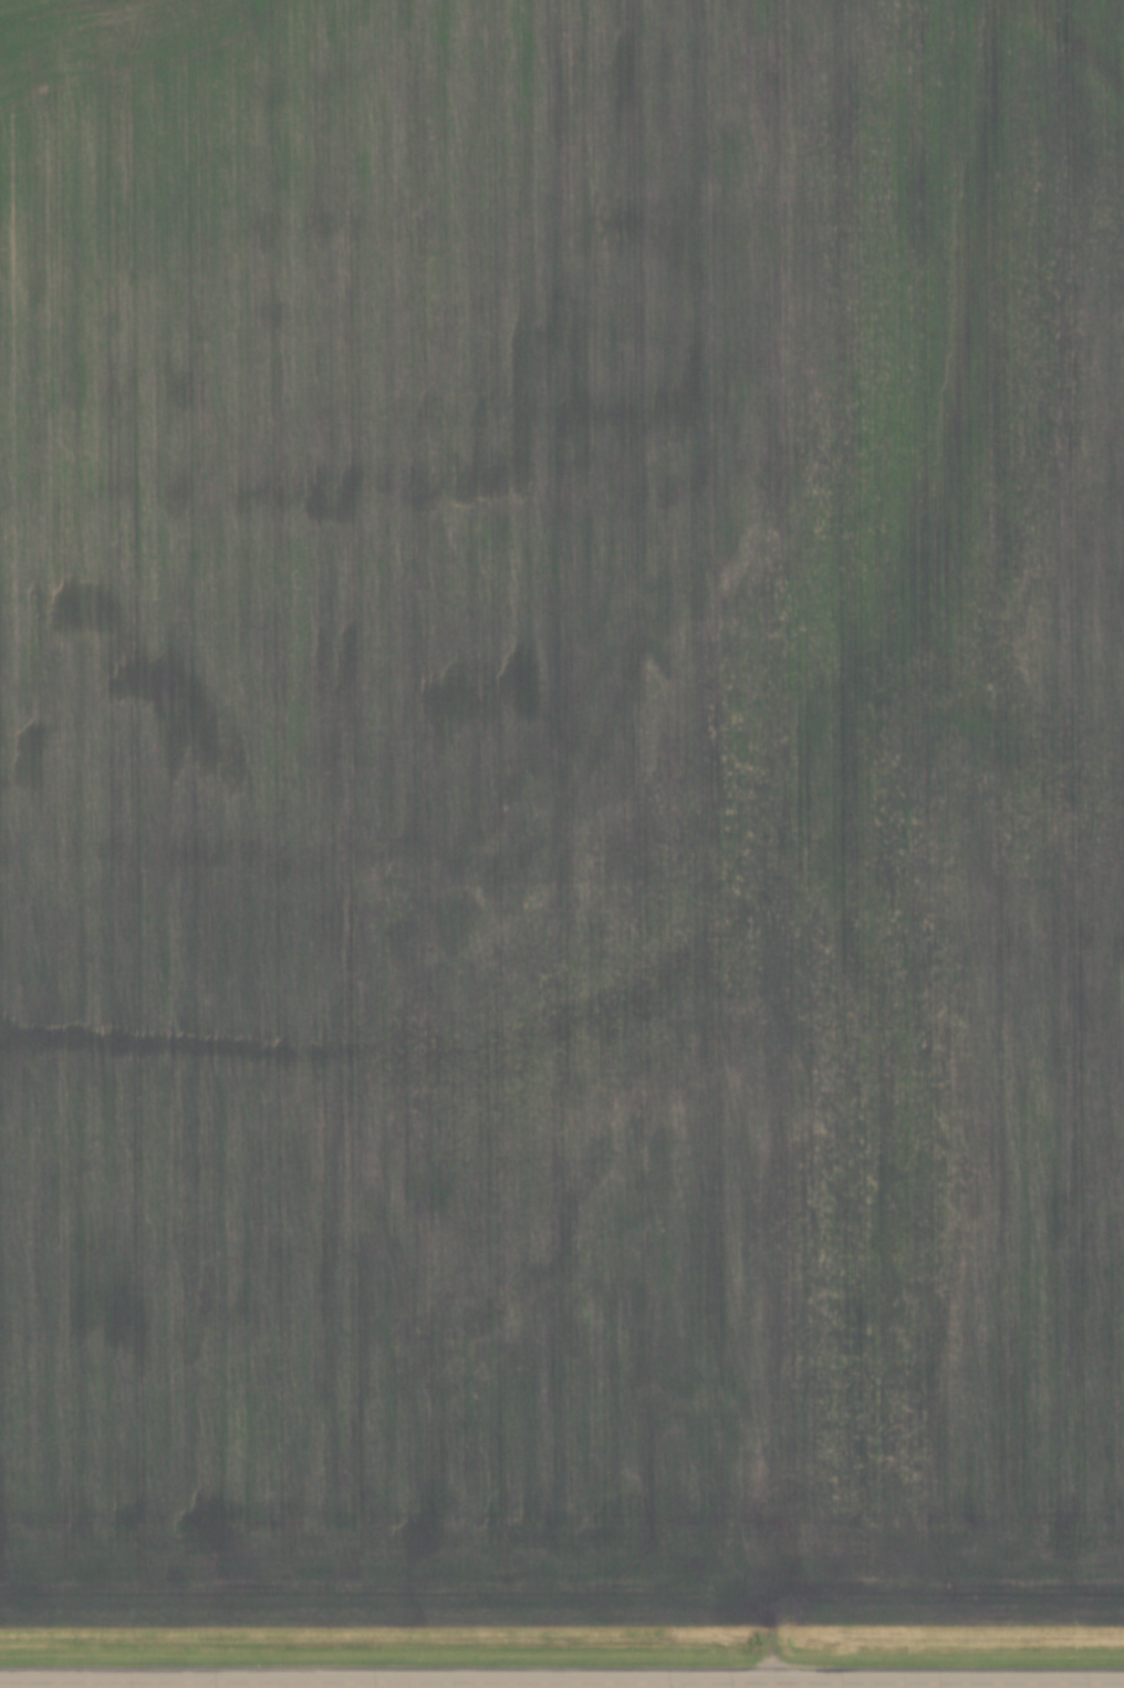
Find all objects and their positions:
road: (562, 1684)

